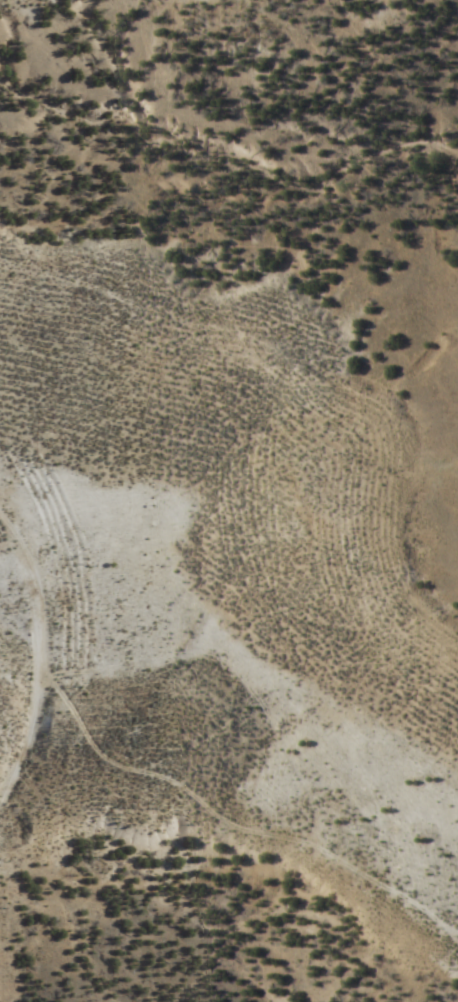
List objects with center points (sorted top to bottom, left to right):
road: (178, 777)

